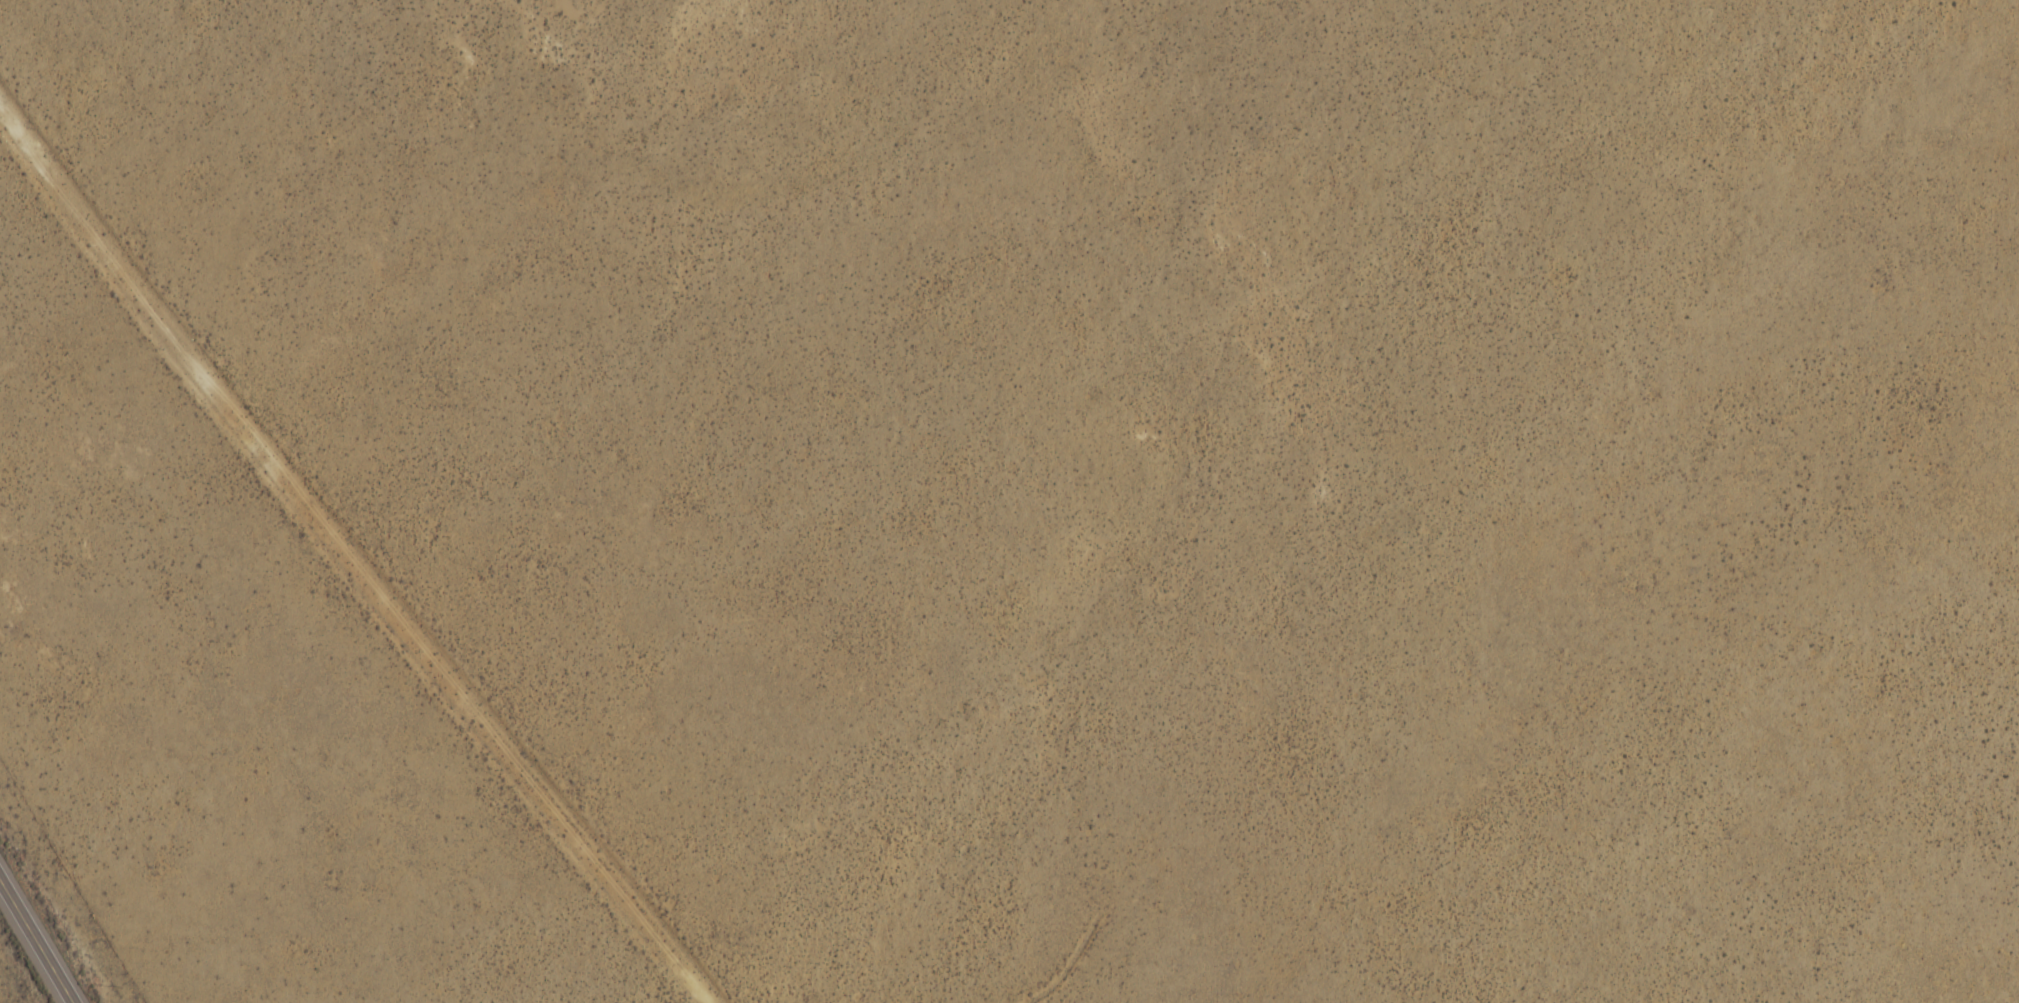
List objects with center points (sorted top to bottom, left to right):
road: (343, 554)
road: (28, 952)

